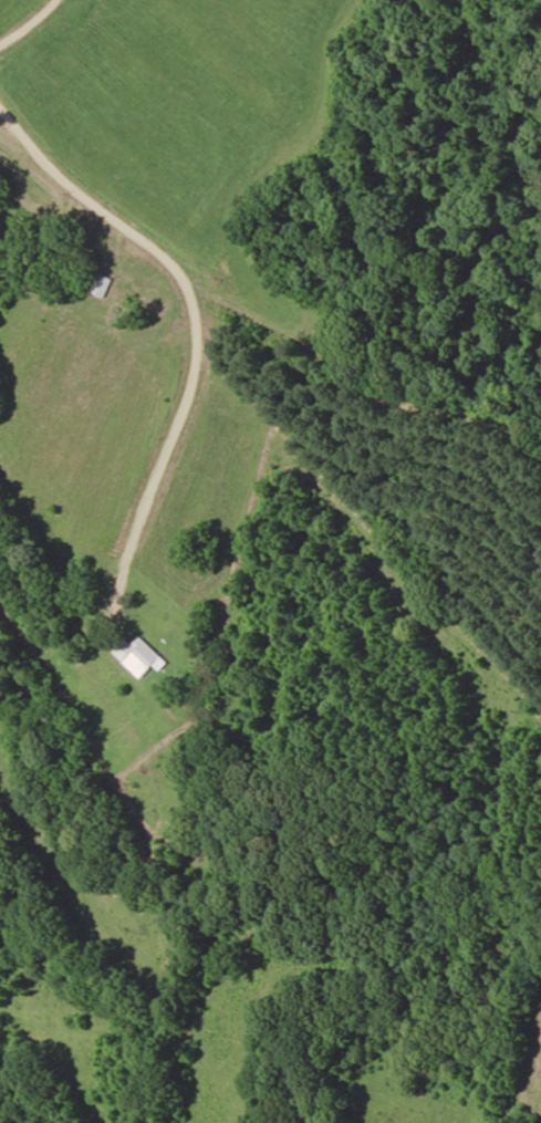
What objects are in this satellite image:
building: (101, 285)
road: (311, 361)
building: (143, 658)
road: (260, 765)

